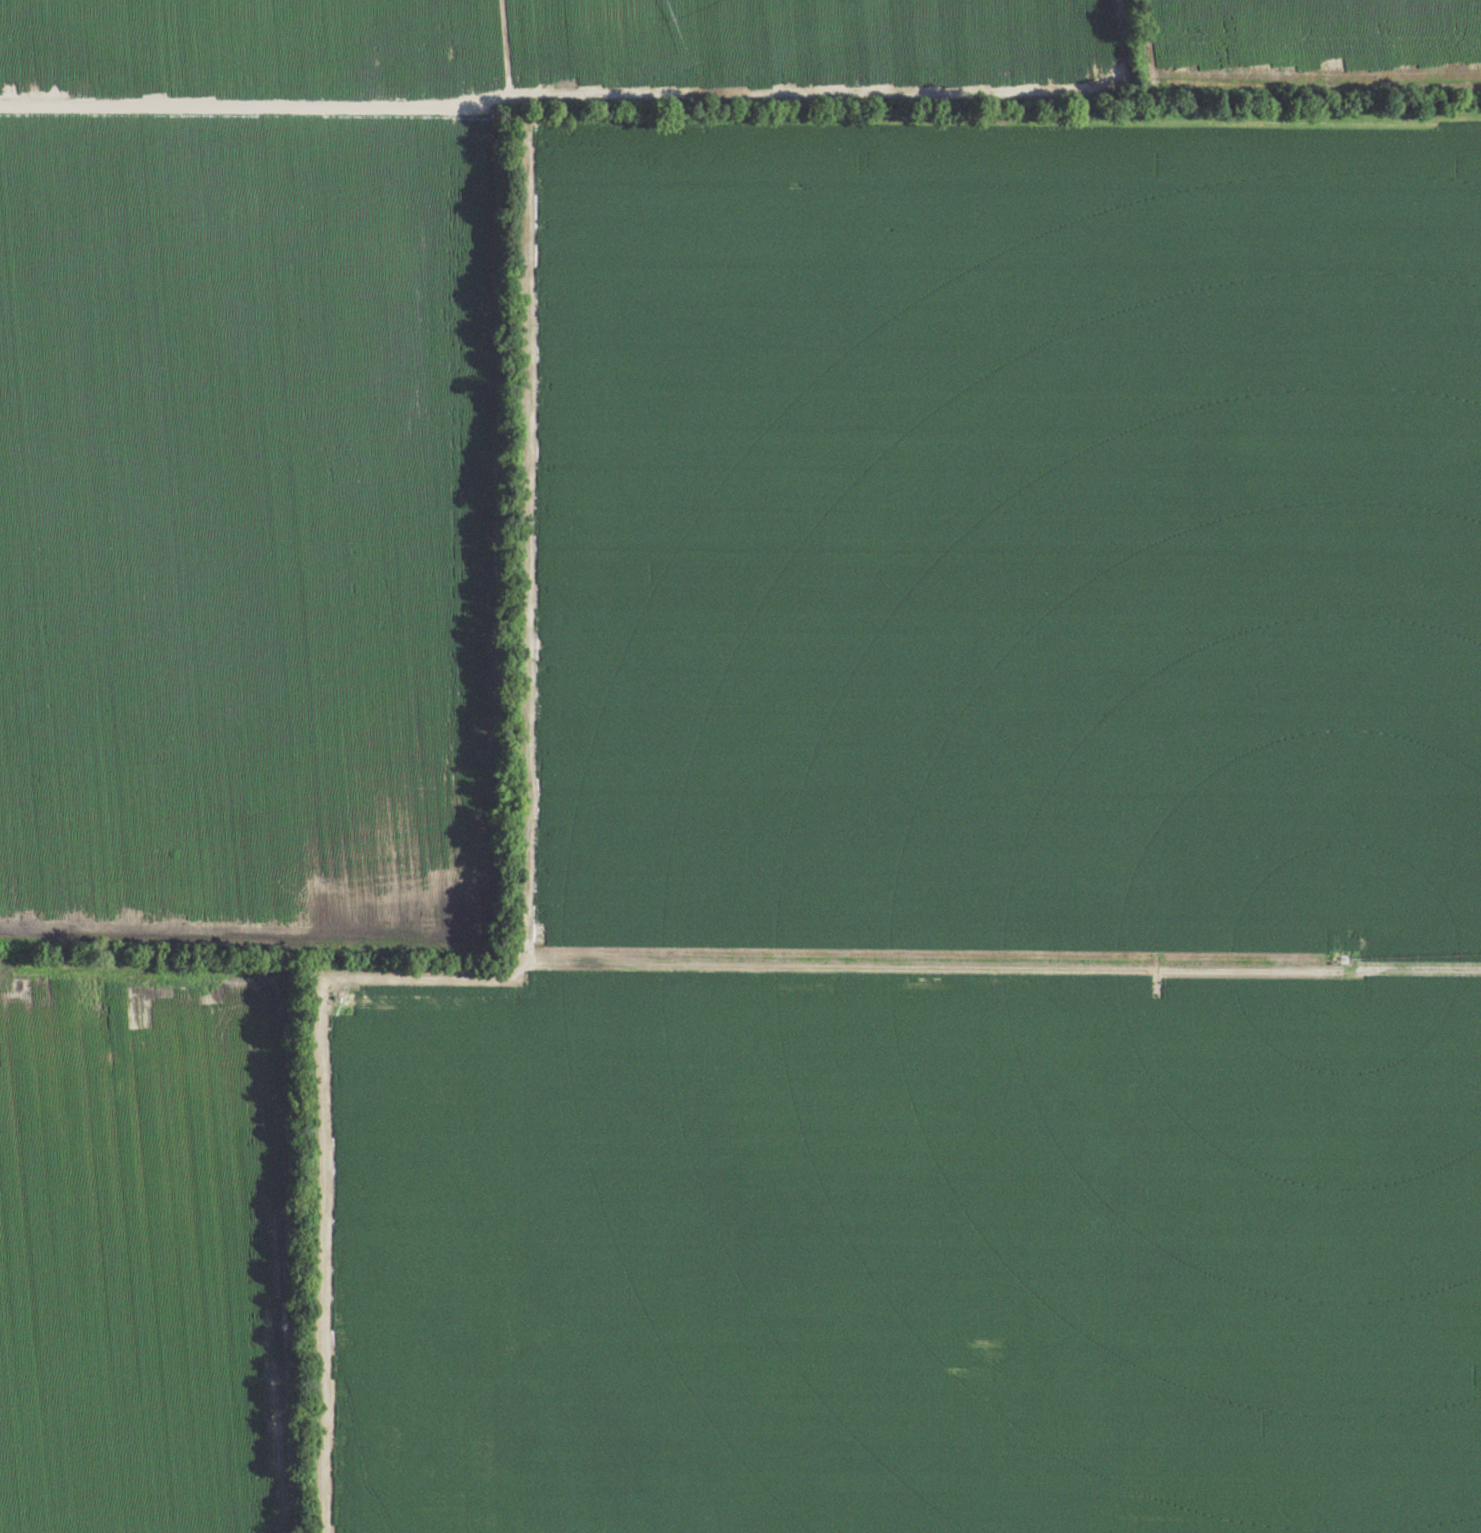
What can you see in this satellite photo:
road: (79, 99)

